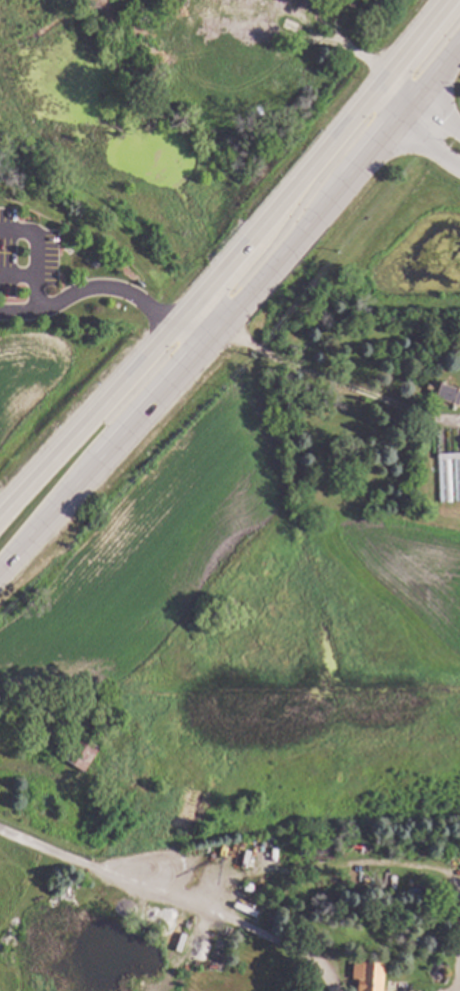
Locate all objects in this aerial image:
road: (391, 96)
road: (432, 128)
road: (33, 259)
road: (228, 261)
road: (106, 289)
road: (234, 305)
road: (334, 383)
crop: (51, 385)
building: (445, 392)
building: (449, 476)
crop: (410, 582)
building: (83, 752)
road: (37, 772)
building: (356, 843)
building: (425, 889)
road: (176, 903)
building: (451, 944)
building: (371, 975)

